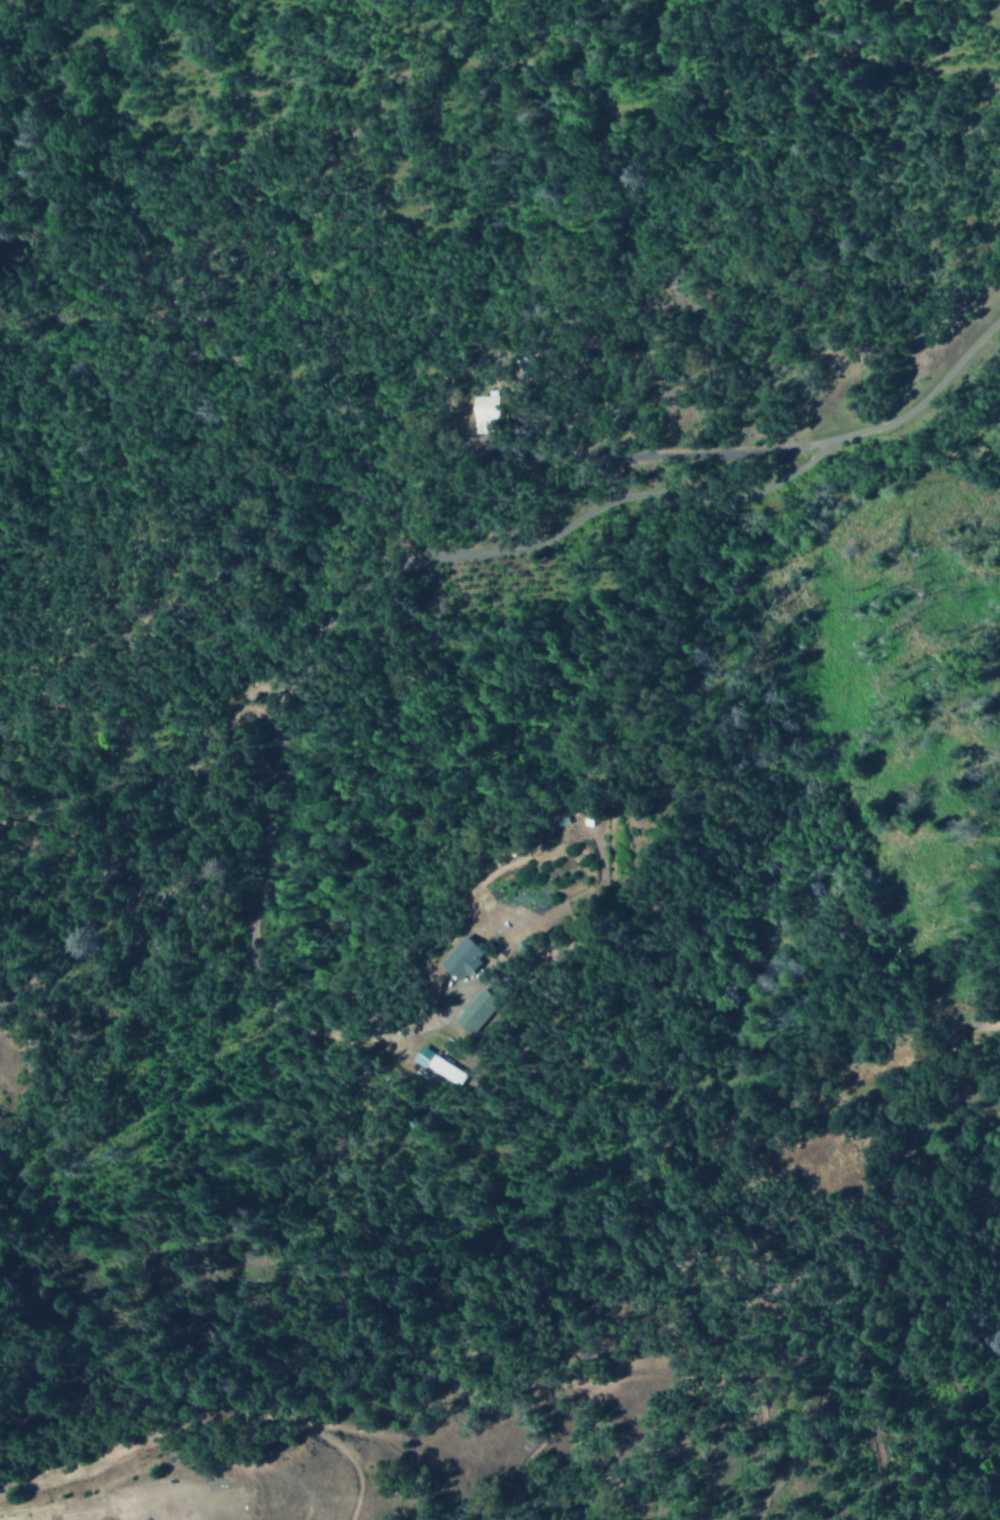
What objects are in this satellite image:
road: (930, 395)
road: (664, 457)
road: (302, 638)
building: (459, 958)
road: (994, 1030)
road: (184, 1427)

